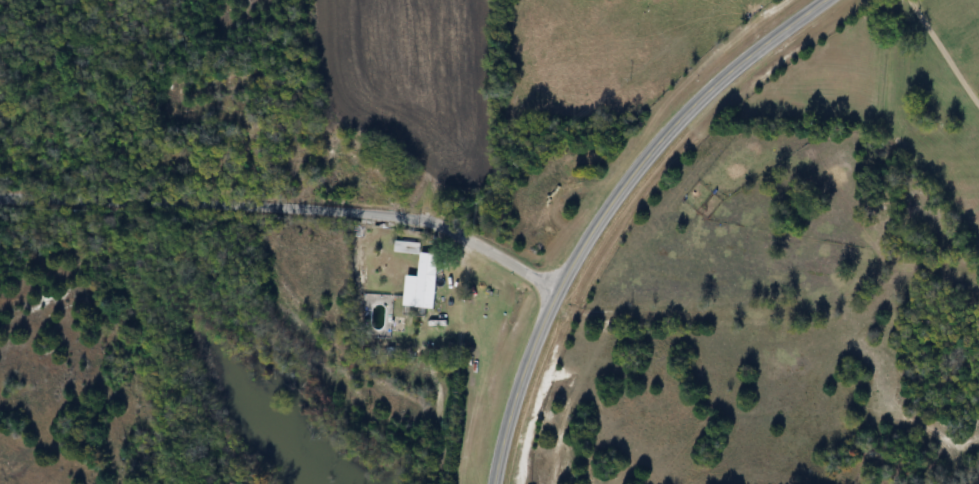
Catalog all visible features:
road: (946, 49)
road: (288, 208)
road: (609, 208)
building: (428, 281)

